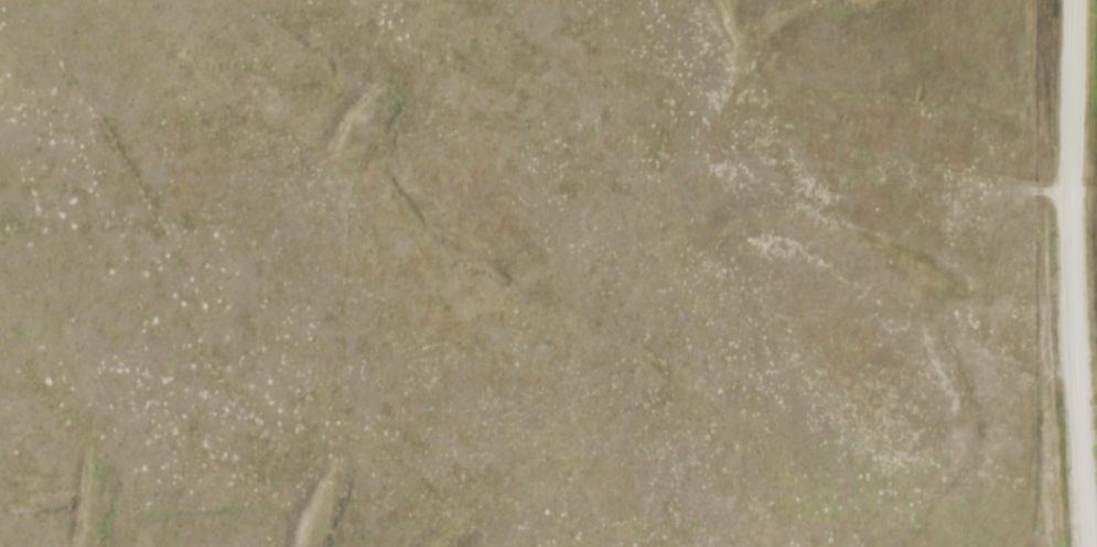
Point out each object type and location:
road: (1069, 273)

